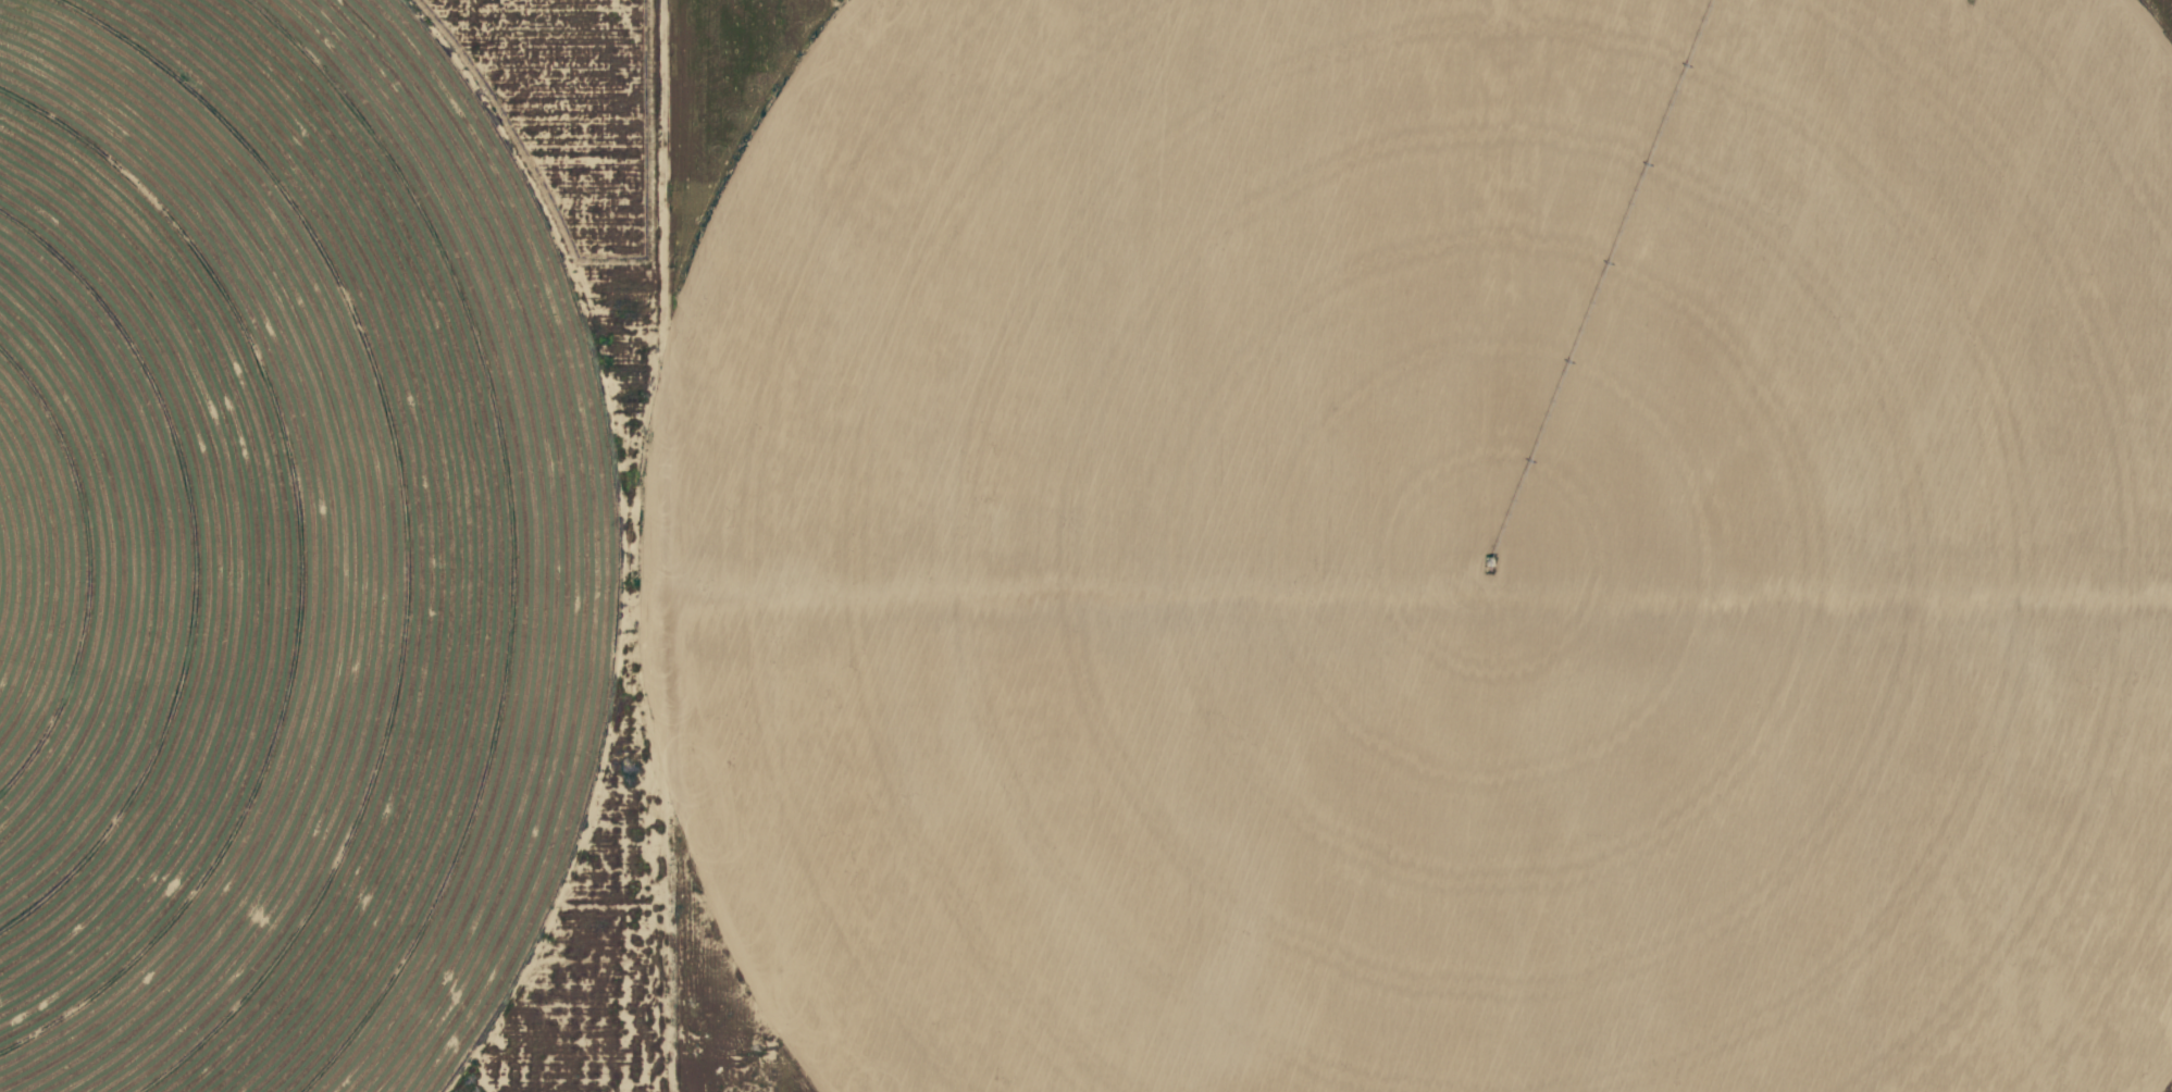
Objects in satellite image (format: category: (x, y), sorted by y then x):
road: (651, 546)
crop: (1436, 548)
crop: (282, 551)

